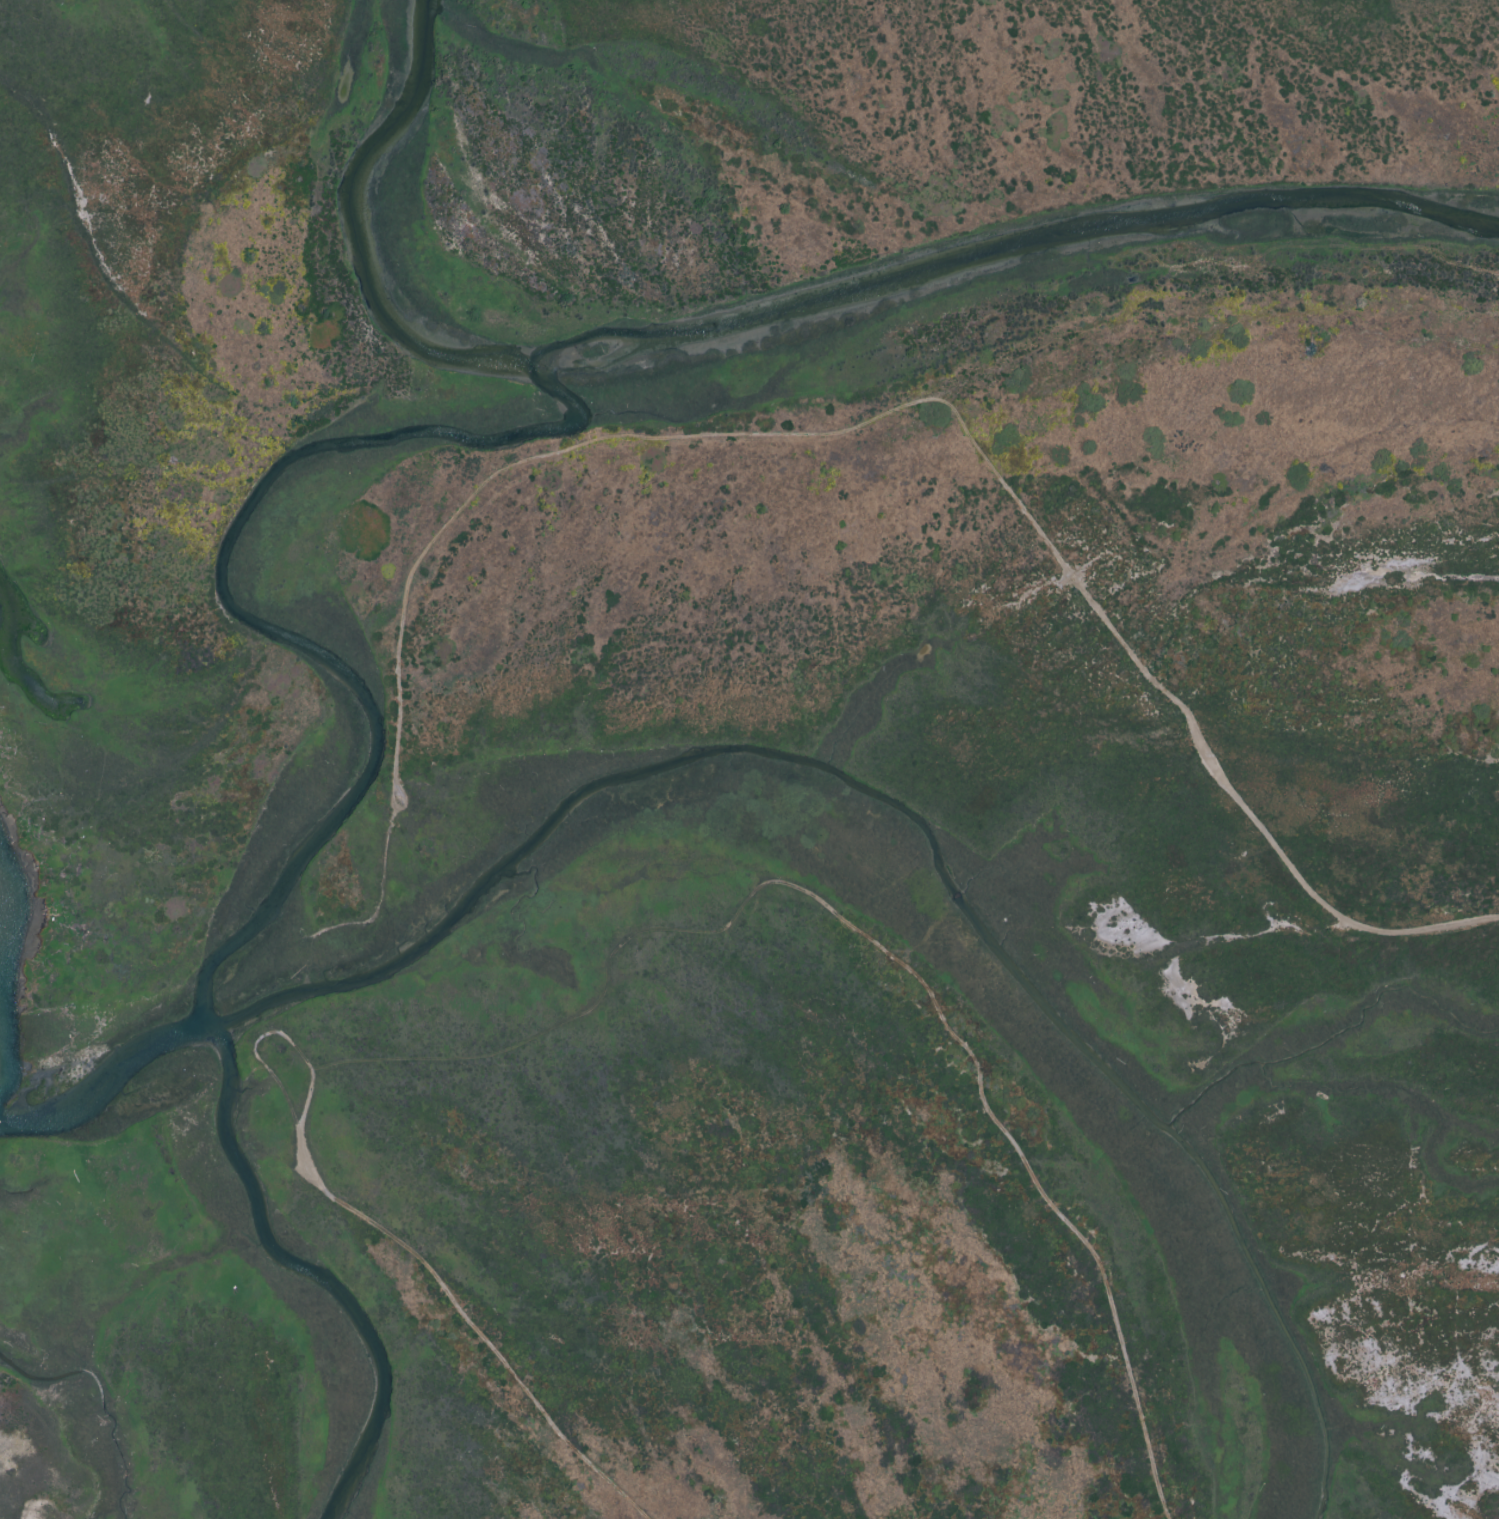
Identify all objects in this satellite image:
river: (771, 316)
road: (938, 404)
river: (237, 615)
river: (679, 760)
road: (873, 945)
road: (270, 1036)
road: (465, 1320)

